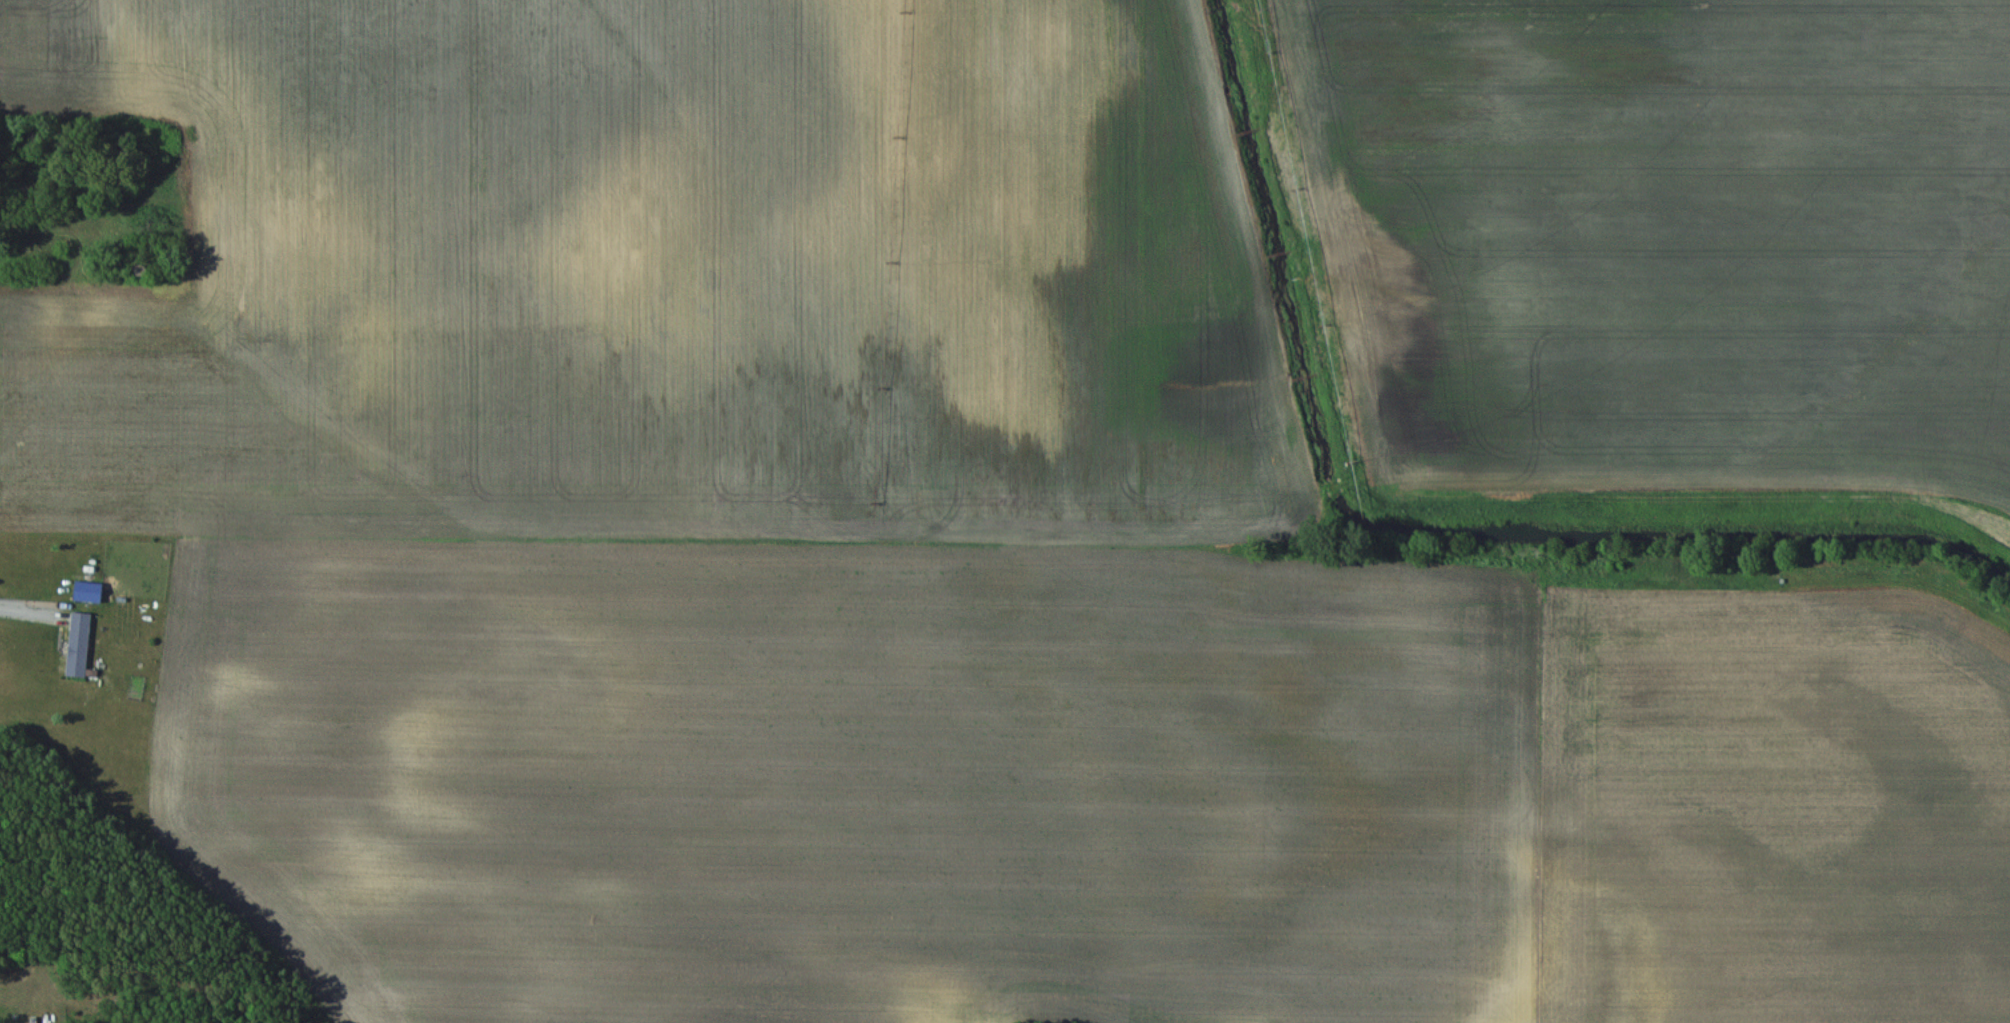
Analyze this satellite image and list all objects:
road: (34, 612)
building: (79, 644)

